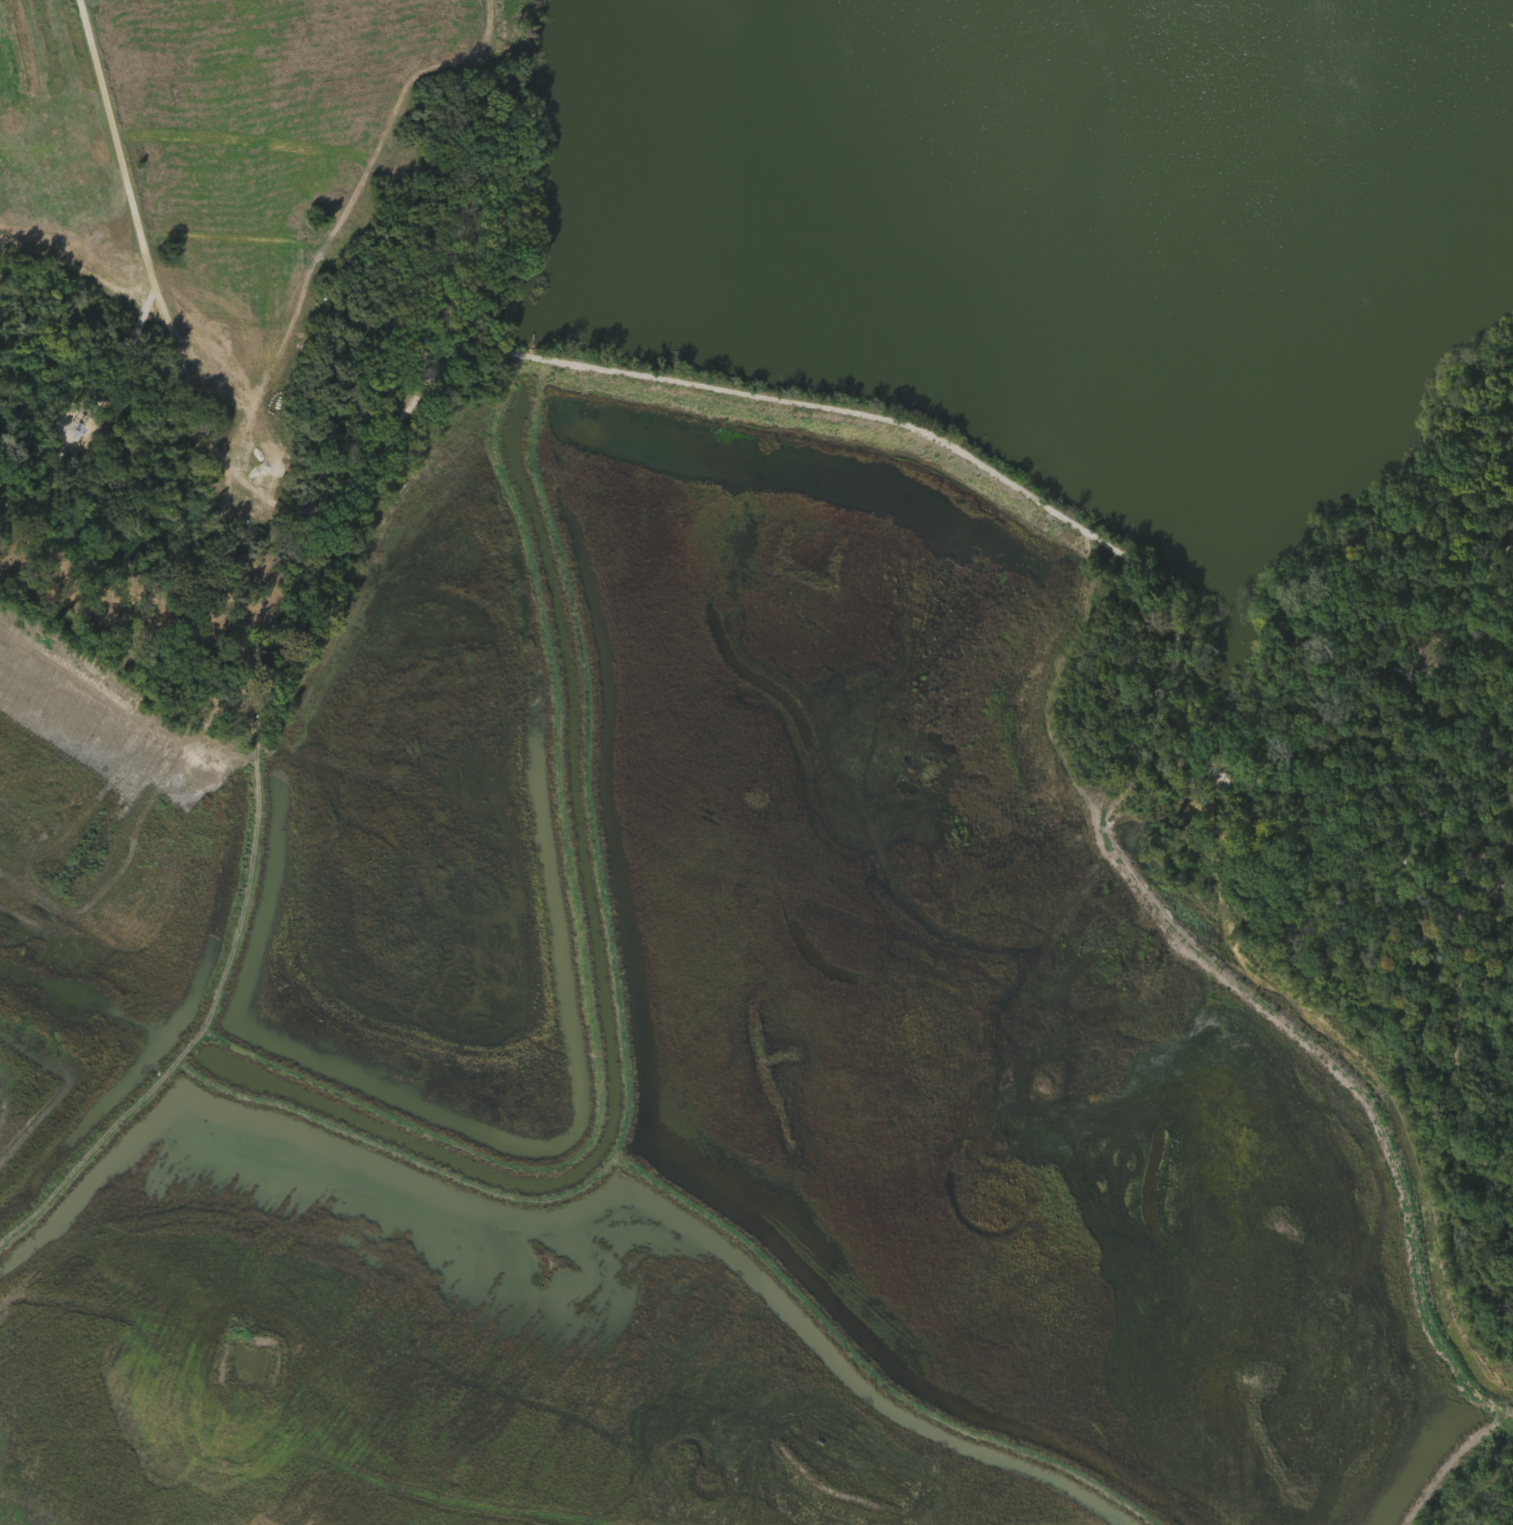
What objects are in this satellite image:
dam: (937, 411)
building: (261, 776)

